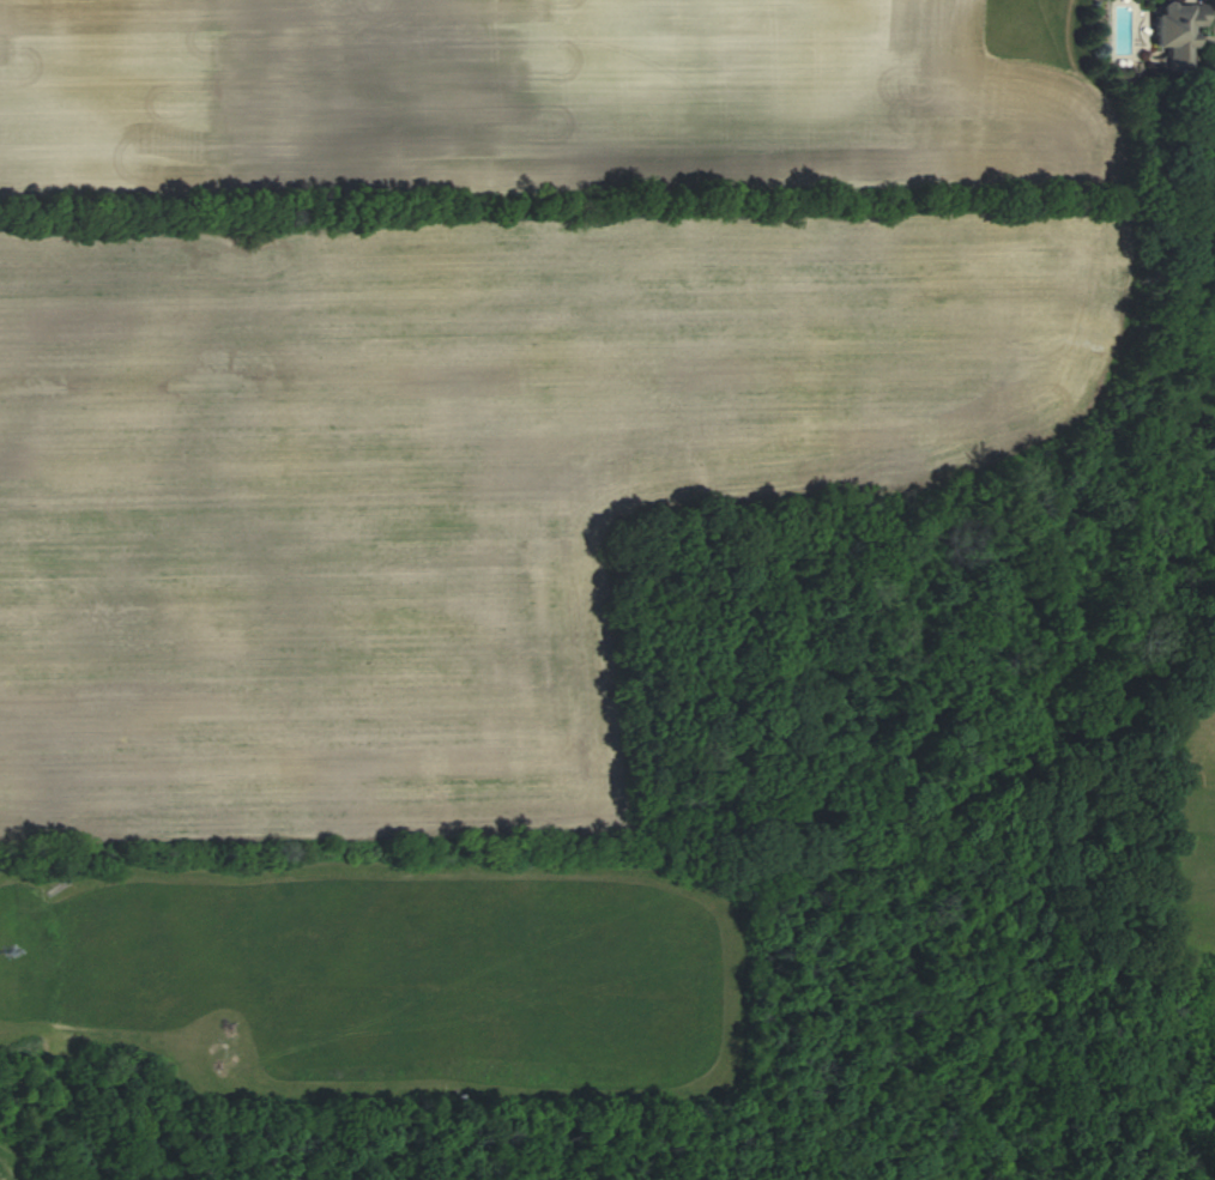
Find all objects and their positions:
building: (1174, 31)

